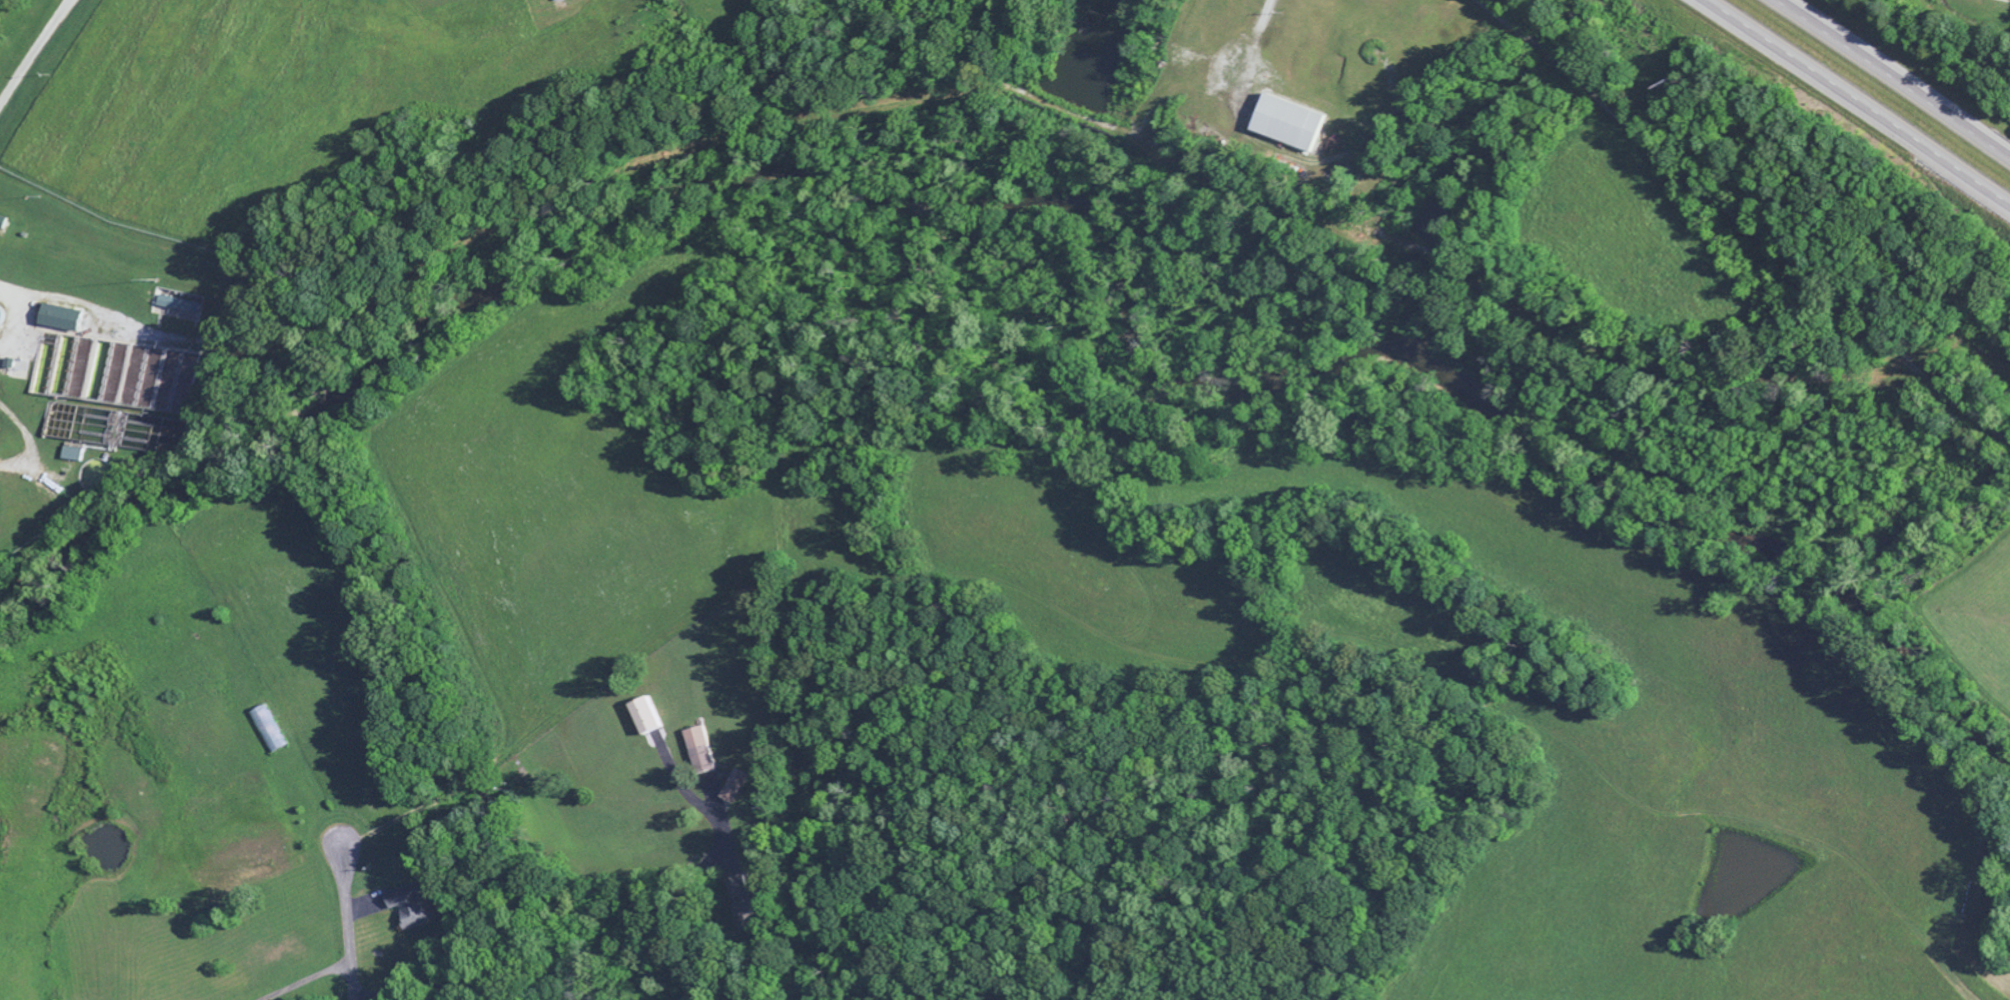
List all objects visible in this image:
building: (1981, 0)
building: (560, 1)
road: (1893, 78)
road: (1858, 101)
building: (1288, 125)
road: (1739, 222)
building: (2, 225)
building: (177, 307)
building: (60, 320)
building: (72, 456)
building: (647, 719)
building: (265, 729)
building: (700, 753)
building: (736, 788)
building: (743, 902)
building: (412, 908)
road: (351, 936)

